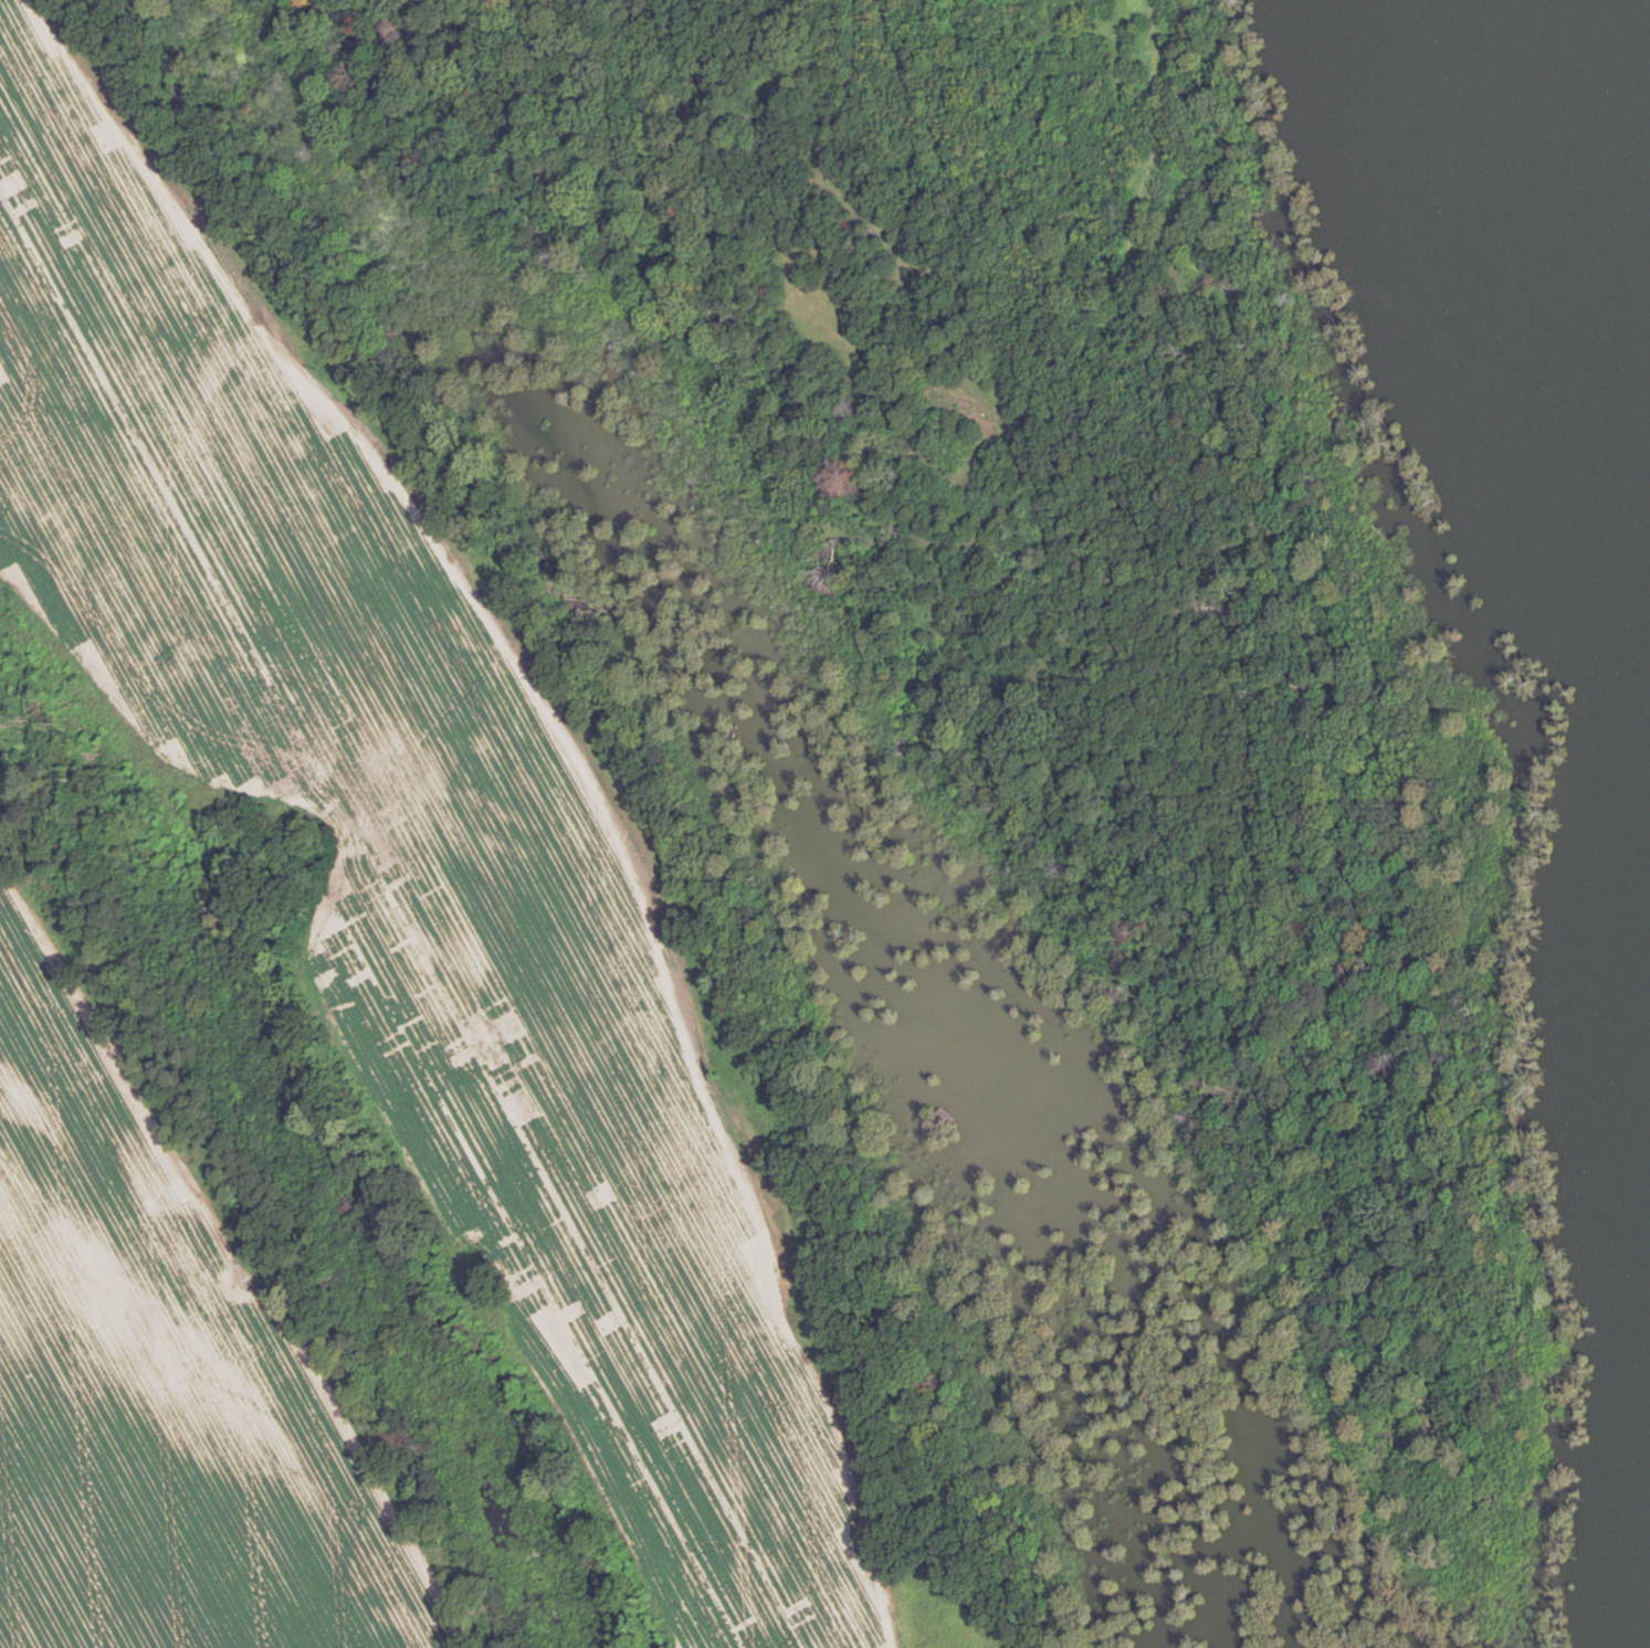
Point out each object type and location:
road: (606, 758)

